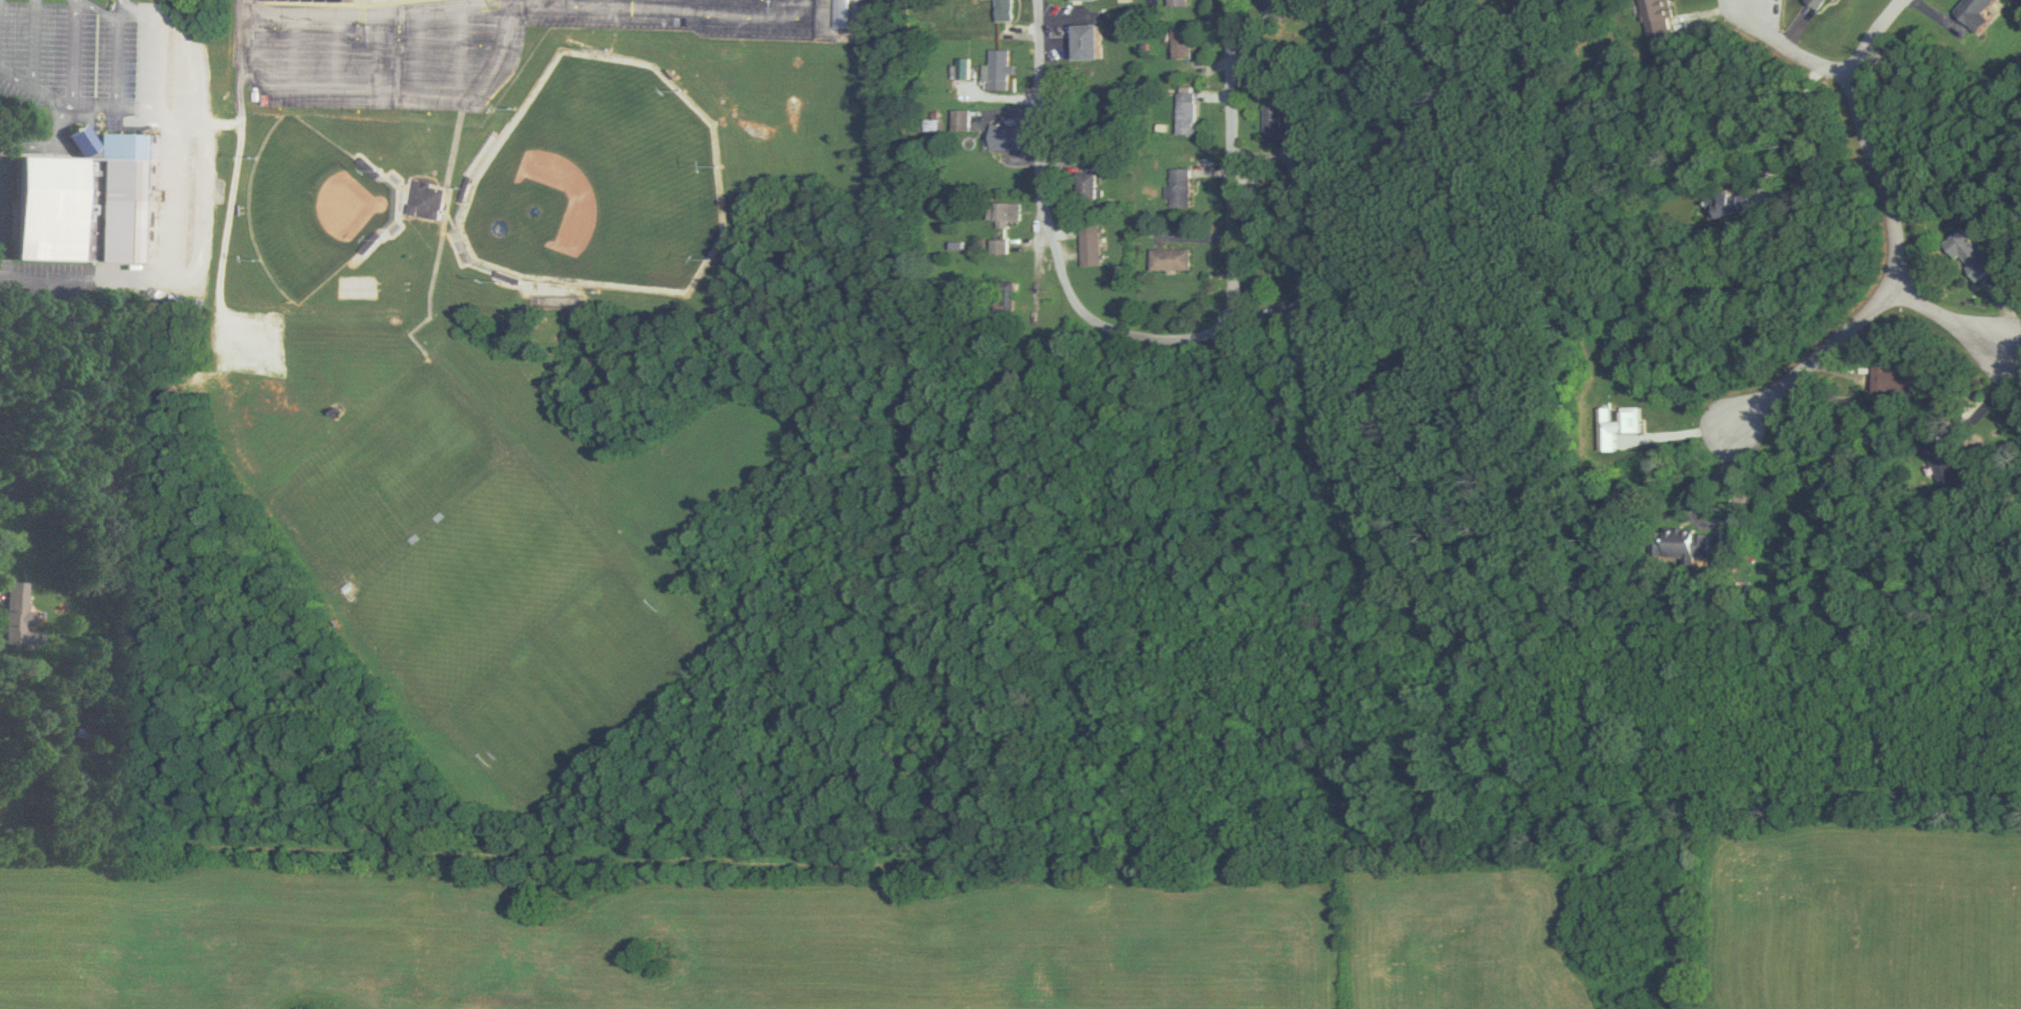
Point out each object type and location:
building: (1090, 0)
building: (325, 1)
building: (1180, 3)
building: (1813, 3)
road: (125, 5)
building: (1280, 9)
building: (1007, 10)
building: (1967, 12)
building: (841, 13)
road: (702, 14)
road: (369, 17)
building: (1661, 17)
road: (153, 41)
building: (1095, 42)
road: (32, 44)
building: (1187, 44)
road: (1790, 49)
road: (73, 56)
building: (1003, 70)
road: (381, 89)
parking lot: (125, 97)
road: (115, 99)
building: (1189, 114)
building: (1279, 117)
building: (965, 121)
building: (1010, 137)
road: (1866, 138)
road: (191, 153)
park: (602, 179)
park: (602, 182)
building: (1185, 188)
building: (1092, 190)
building: (432, 199)
building: (1733, 203)
building: (85, 206)
park: (315, 208)
park: (320, 210)
building: (1012, 212)
building: (1093, 244)
building: (1002, 247)
building: (1966, 252)
building: (1175, 259)
building: (568, 301)
road: (1949, 321)
road: (1152, 340)
road: (1812, 360)
building: (1895, 378)
building: (1939, 456)
building: (1672, 540)
building: (16, 617)

